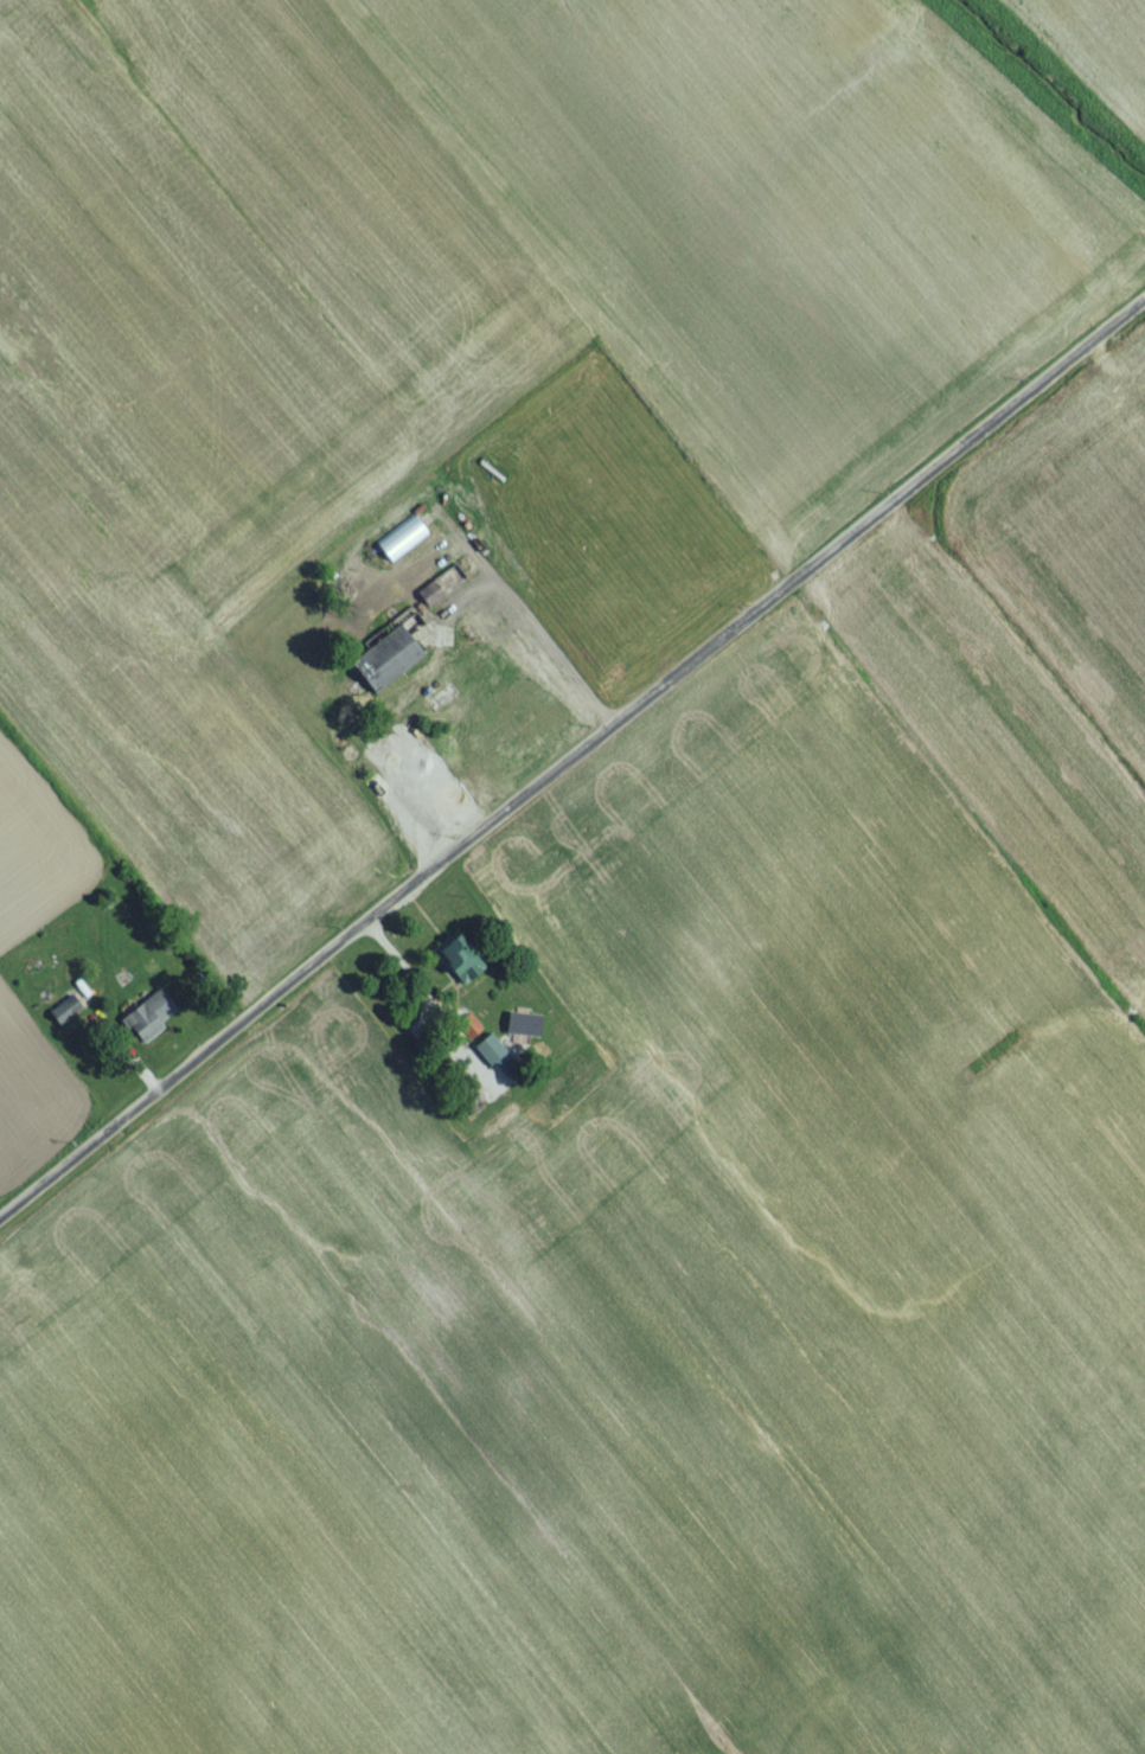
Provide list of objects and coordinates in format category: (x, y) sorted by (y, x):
building: (399, 550)
road: (539, 630)
building: (388, 666)
road: (572, 768)
building: (455, 966)
building: (143, 1024)

